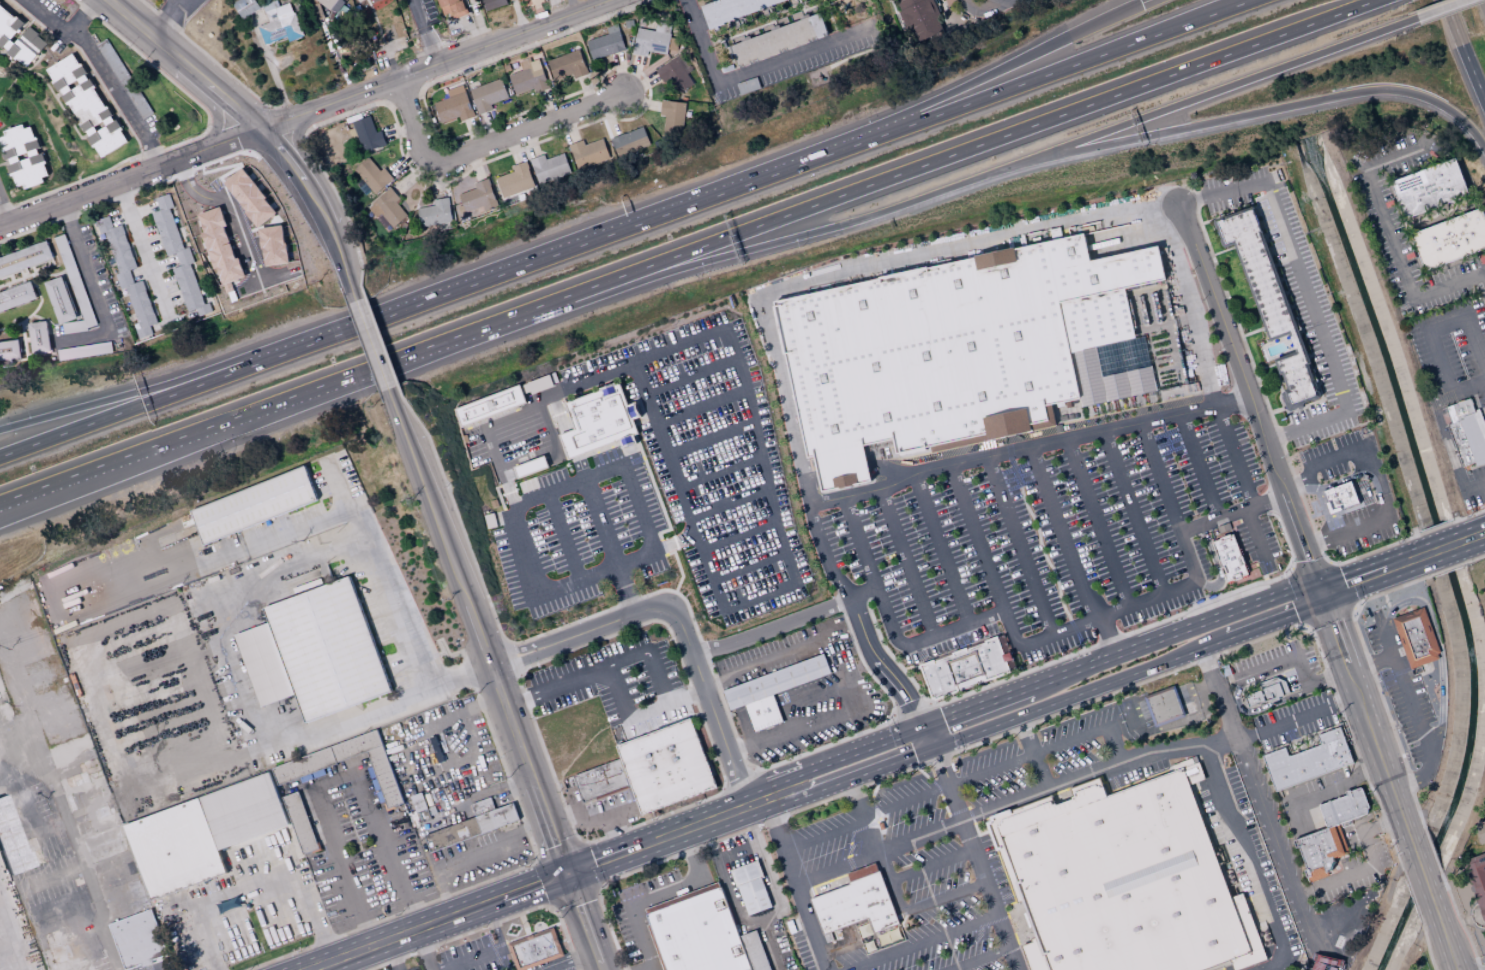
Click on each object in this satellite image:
building: (949, 1)
road: (1145, 2)
building: (332, 4)
building: (492, 4)
road: (188, 5)
traffic signals: (1140, 5)
building: (246, 7)
building: (732, 8)
road: (1440, 8)
building: (450, 9)
road: (989, 10)
road: (82, 17)
building: (914, 19)
building: (283, 20)
road: (169, 21)
building: (7, 33)
road: (424, 33)
building: (652, 40)
building: (778, 40)
building: (605, 43)
road: (1463, 50)
road: (183, 64)
building: (566, 65)
road: (440, 66)
road: (465, 67)
road: (756, 70)
road: (105, 71)
building: (674, 74)
building: (527, 77)
building: (123, 78)
road: (963, 86)
road: (1018, 86)
road: (1213, 91)
building: (487, 95)
building: (86, 105)
building: (453, 105)
road: (1257, 112)
building: (672, 117)
road: (278, 121)
building: (367, 134)
building: (629, 142)
road: (485, 148)
building: (588, 153)
building: (22, 156)
road: (920, 167)
building: (549, 169)
road: (296, 174)
building: (372, 175)
road: (130, 178)
building: (515, 180)
building: (1429, 188)
building: (249, 196)
building: (477, 198)
road: (230, 207)
building: (386, 210)
building: (435, 213)
road: (1218, 214)
road: (3, 215)
road: (1389, 234)
building: (1450, 240)
building: (273, 245)
building: (220, 249)
road: (145, 251)
road: (738, 251)
road: (1222, 251)
building: (177, 255)
road: (554, 255)
building: (24, 259)
road: (342, 262)
road: (863, 264)
building: (127, 275)
road: (1482, 281)
road: (92, 290)
building: (77, 292)
road: (1306, 293)
building: (16, 296)
building: (60, 300)
building: (1269, 302)
road: (1190, 305)
road: (1426, 329)
road: (1252, 331)
road: (378, 334)
building: (38, 337)
road: (370, 344)
building: (9, 350)
building: (961, 350)
road: (1264, 367)
road: (686, 375)
road: (160, 386)
road: (297, 396)
road: (1279, 397)
road: (160, 398)
road: (1250, 398)
road: (1308, 404)
building: (489, 405)
road: (697, 408)
road: (1270, 416)
building: (596, 420)
road: (1290, 421)
building: (1466, 431)
road: (707, 439)
road: (1028, 447)
road: (1449, 448)
road: (757, 452)
road: (1234, 456)
building: (529, 466)
road: (1199, 466)
road: (717, 469)
road: (890, 469)
road: (842, 474)
road: (1379, 474)
road: (810, 480)
road: (1336, 482)
road: (65, 483)
road: (1310, 485)
road: (1375, 487)
road: (562, 488)
road: (65, 489)
building: (1340, 497)
road: (341, 498)
road: (729, 501)
road: (1319, 503)
building: (253, 505)
road: (1312, 507)
road: (1132, 512)
road: (1231, 512)
road: (1469, 515)
road: (1097, 522)
road: (605, 523)
road: (438, 526)
road: (1436, 527)
road: (1061, 533)
road: (739, 535)
parking lot: (1046, 535)
road: (1472, 536)
road: (270, 537)
road: (857, 538)
road: (562, 540)
road: (1257, 540)
road: (673, 543)
road: (1019, 546)
road: (1441, 548)
road: (941, 549)
building: (1228, 558)
road: (1475, 558)
road: (1405, 562)
road: (1329, 563)
road: (1215, 564)
road: (750, 565)
road: (1312, 567)
road: (1293, 568)
road: (1448, 568)
road: (837, 580)
road: (1353, 581)
road: (1337, 585)
traffic signals: (1321, 593)
road: (1302, 595)
road: (919, 598)
road: (1353, 608)
road: (1327, 613)
road: (1274, 617)
road: (1094, 618)
road: (1306, 624)
road: (214, 628)
road: (889, 628)
road: (577, 633)
road: (1175, 635)
road: (1108, 637)
building: (1416, 637)
road: (506, 644)
road: (1440, 649)
building: (313, 652)
road: (1291, 656)
road: (509, 659)
road: (1298, 664)
road: (1370, 664)
road: (760, 666)
building: (964, 668)
road: (602, 670)
road: (517, 672)
road: (1373, 677)
building: (775, 681)
road: (1253, 683)
parking lot: (636, 685)
road: (1404, 690)
road: (1085, 691)
road: (1197, 691)
building: (1266, 692)
road: (800, 702)
road: (1162, 702)
road: (905, 704)
road: (710, 705)
building: (1166, 706)
road: (1259, 708)
road: (976, 709)
road: (506, 712)
road: (640, 712)
building: (762, 713)
road: (1126, 715)
road: (1297, 718)
road: (446, 722)
road: (1033, 722)
road: (1171, 724)
road: (1367, 724)
road: (825, 730)
road: (939, 745)
road: (474, 746)
traffic signals: (933, 747)
road: (923, 750)
road: (855, 753)
road: (1032, 753)
building: (1307, 759)
road: (1004, 761)
road: (745, 762)
building: (667, 767)
road: (333, 776)
road: (855, 776)
road: (754, 778)
road: (1415, 779)
building: (602, 782)
road: (740, 785)
road: (1055, 787)
road: (1336, 788)
road: (725, 789)
road: (485, 793)
road: (712, 796)
road: (771, 796)
road: (1258, 797)
building: (482, 806)
road: (544, 816)
road: (562, 816)
road: (604, 818)
building: (232, 820)
road: (692, 826)
building: (471, 827)
road: (45, 832)
building: (1481, 832)
road: (614, 834)
building: (1330, 834)
building: (11, 840)
road: (580, 842)
road: (827, 844)
road: (873, 844)
road: (1432, 849)
road: (477, 859)
road: (602, 859)
road: (586, 865)
road: (931, 865)
road: (1260, 866)
road: (1371, 866)
road: (81, 869)
traffic signals: (567, 873)
road: (49, 878)
road: (1423, 878)
road: (260, 880)
building: (1122, 880)
building: (1476, 881)
road: (795, 884)
road: (533, 885)
road: (597, 887)
building: (753, 887)
road: (658, 895)
road: (989, 895)
road: (1411, 895)
road: (943, 898)
building: (855, 903)
road: (421, 907)
road: (762, 918)
road: (584, 921)
road: (1460, 922)
road: (494, 924)
road: (481, 927)
road: (1480, 927)
road: (1340, 930)
road: (72, 932)
building: (703, 934)
road: (407, 935)
road: (1444, 936)
building: (137, 939)
road: (922, 942)
road: (770, 944)
road: (1427, 946)
road: (9, 948)
building: (534, 949)
road: (423, 950)
road: (1324, 953)
road: (395, 956)
road: (468, 957)
road: (978, 958)
road: (565, 959)
road: (1322, 959)
building: (1329, 960)
road: (1321, 961)
road: (159, 966)
road: (1319, 966)
building: (1321, 966)
road: (652, 969)

